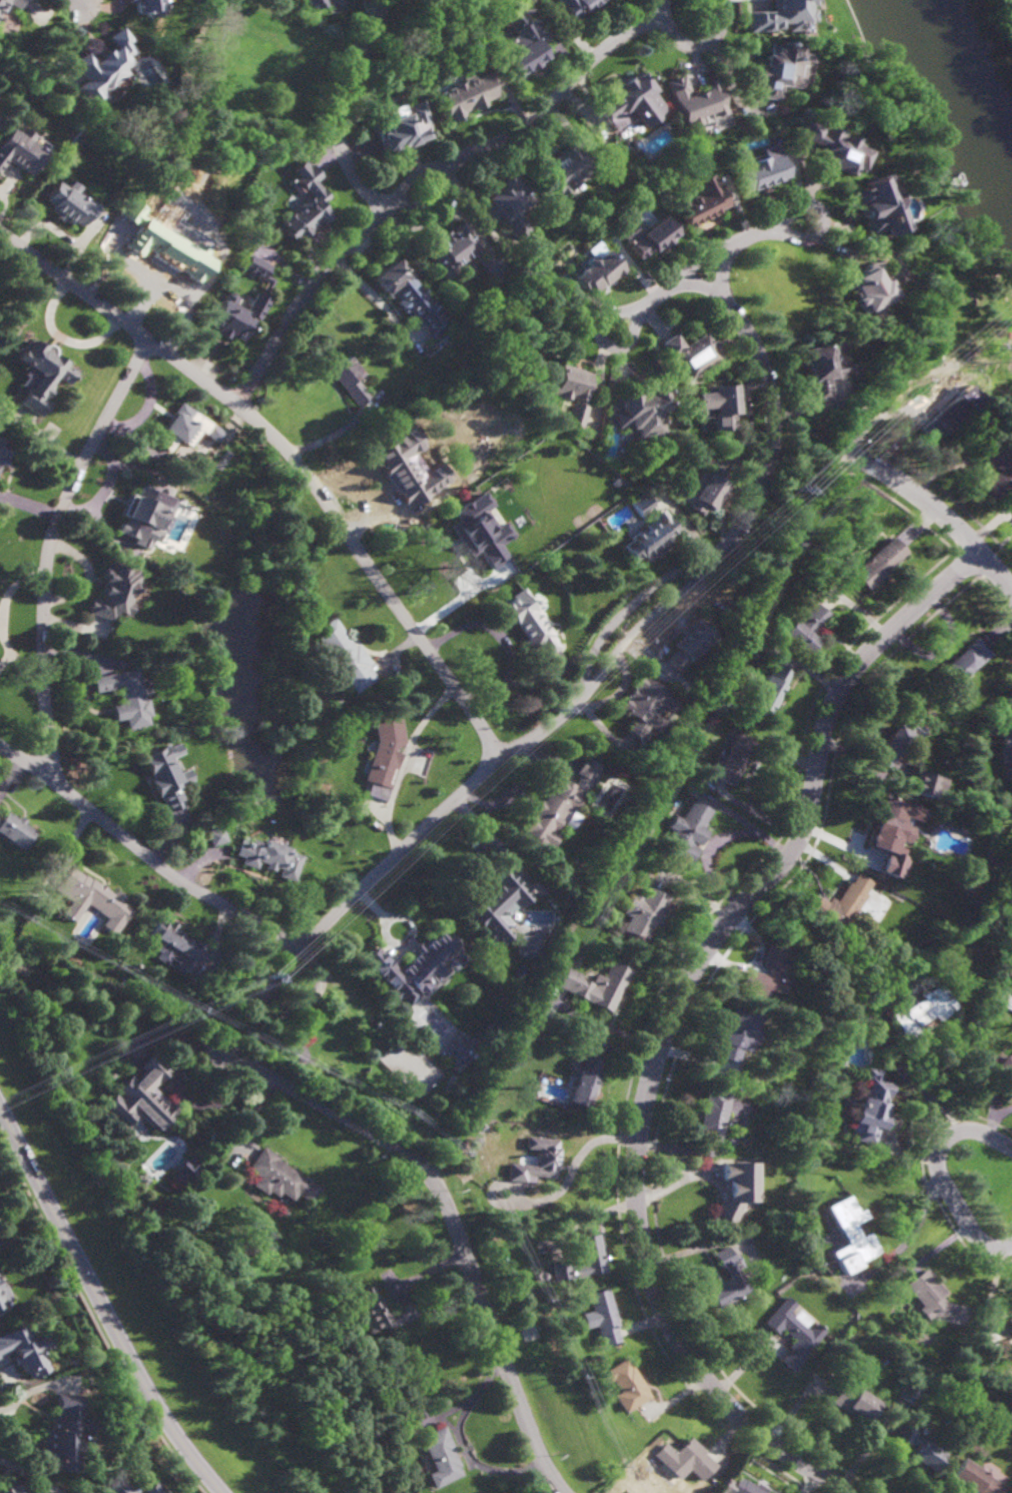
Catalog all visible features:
building: (452, 2)
building: (11, 3)
building: (313, 3)
road: (88, 5)
building: (145, 6)
building: (578, 7)
road: (661, 8)
building: (780, 15)
building: (316, 22)
building: (523, 40)
road: (702, 44)
building: (103, 66)
building: (778, 67)
building: (466, 93)
road: (561, 93)
building: (695, 100)
building: (633, 101)
road: (335, 107)
building: (403, 125)
building: (833, 145)
building: (20, 150)
building: (566, 169)
building: (758, 170)
road: (414, 175)
road: (430, 197)
building: (703, 202)
building: (305, 203)
building: (510, 203)
building: (69, 204)
building: (876, 206)
road: (824, 217)
building: (166, 229)
building: (654, 238)
building: (461, 252)
road: (704, 262)
building: (600, 271)
road: (702, 285)
building: (869, 290)
building: (256, 297)
building: (412, 297)
road: (302, 298)
road: (602, 341)
building: (694, 354)
building: (818, 371)
building: (42, 376)
building: (348, 377)
building: (573, 392)
building: (724, 408)
road: (774, 411)
building: (951, 413)
building: (645, 414)
building: (183, 429)
road: (341, 432)
road: (810, 447)
building: (4, 453)
road: (365, 454)
road: (291, 455)
building: (408, 467)
building: (997, 469)
building: (618, 484)
building: (706, 491)
power tower: (788, 491)
road: (916, 494)
building: (144, 517)
building: (480, 530)
building: (652, 533)
road: (49, 550)
building: (880, 565)
building: (112, 594)
road: (627, 611)
building: (532, 623)
road: (642, 624)
building: (806, 630)
road: (502, 639)
building: (691, 646)
building: (344, 656)
building: (962, 668)
building: (770, 690)
building: (123, 697)
building: (725, 702)
building: (646, 706)
power tower: (551, 709)
road: (546, 730)
building: (899, 739)
building: (1007, 747)
building: (385, 757)
building: (732, 758)
road: (402, 763)
building: (163, 776)
building: (927, 784)
building: (560, 807)
building: (632, 825)
building: (888, 825)
building: (14, 829)
building: (686, 832)
building: (217, 836)
road: (145, 854)
building: (270, 856)
road: (375, 875)
building: (91, 896)
building: (501, 904)
building: (844, 904)
building: (644, 913)
building: (5, 941)
building: (175, 946)
building: (530, 946)
building: (900, 951)
building: (415, 965)
building: (765, 970)
power tower: (257, 981)
building: (597, 985)
road: (683, 987)
building: (922, 1010)
building: (733, 1033)
building: (462, 1050)
building: (1005, 1071)
building: (585, 1083)
road: (921, 1091)
building: (142, 1098)
building: (870, 1107)
building: (710, 1116)
road: (995, 1118)
building: (445, 1122)
building: (537, 1161)
building: (184, 1171)
road: (939, 1175)
building: (279, 1178)
building: (735, 1190)
road: (455, 1220)
road: (913, 1228)
building: (850, 1237)
building: (581, 1260)
building: (725, 1281)
building: (5, 1297)
road: (104, 1301)
building: (935, 1302)
building: (240, 1305)
building: (383, 1313)
building: (602, 1317)
building: (1010, 1326)
building: (792, 1333)
building: (26, 1349)
building: (911, 1373)
building: (626, 1384)
building: (909, 1393)
building: (853, 1399)
building: (64, 1433)
building: (920, 1447)
building: (442, 1456)
building: (684, 1458)
building: (973, 1479)
building: (117, 1486)
building: (743, 1486)
building: (155, 1488)
building: (17, 1489)

